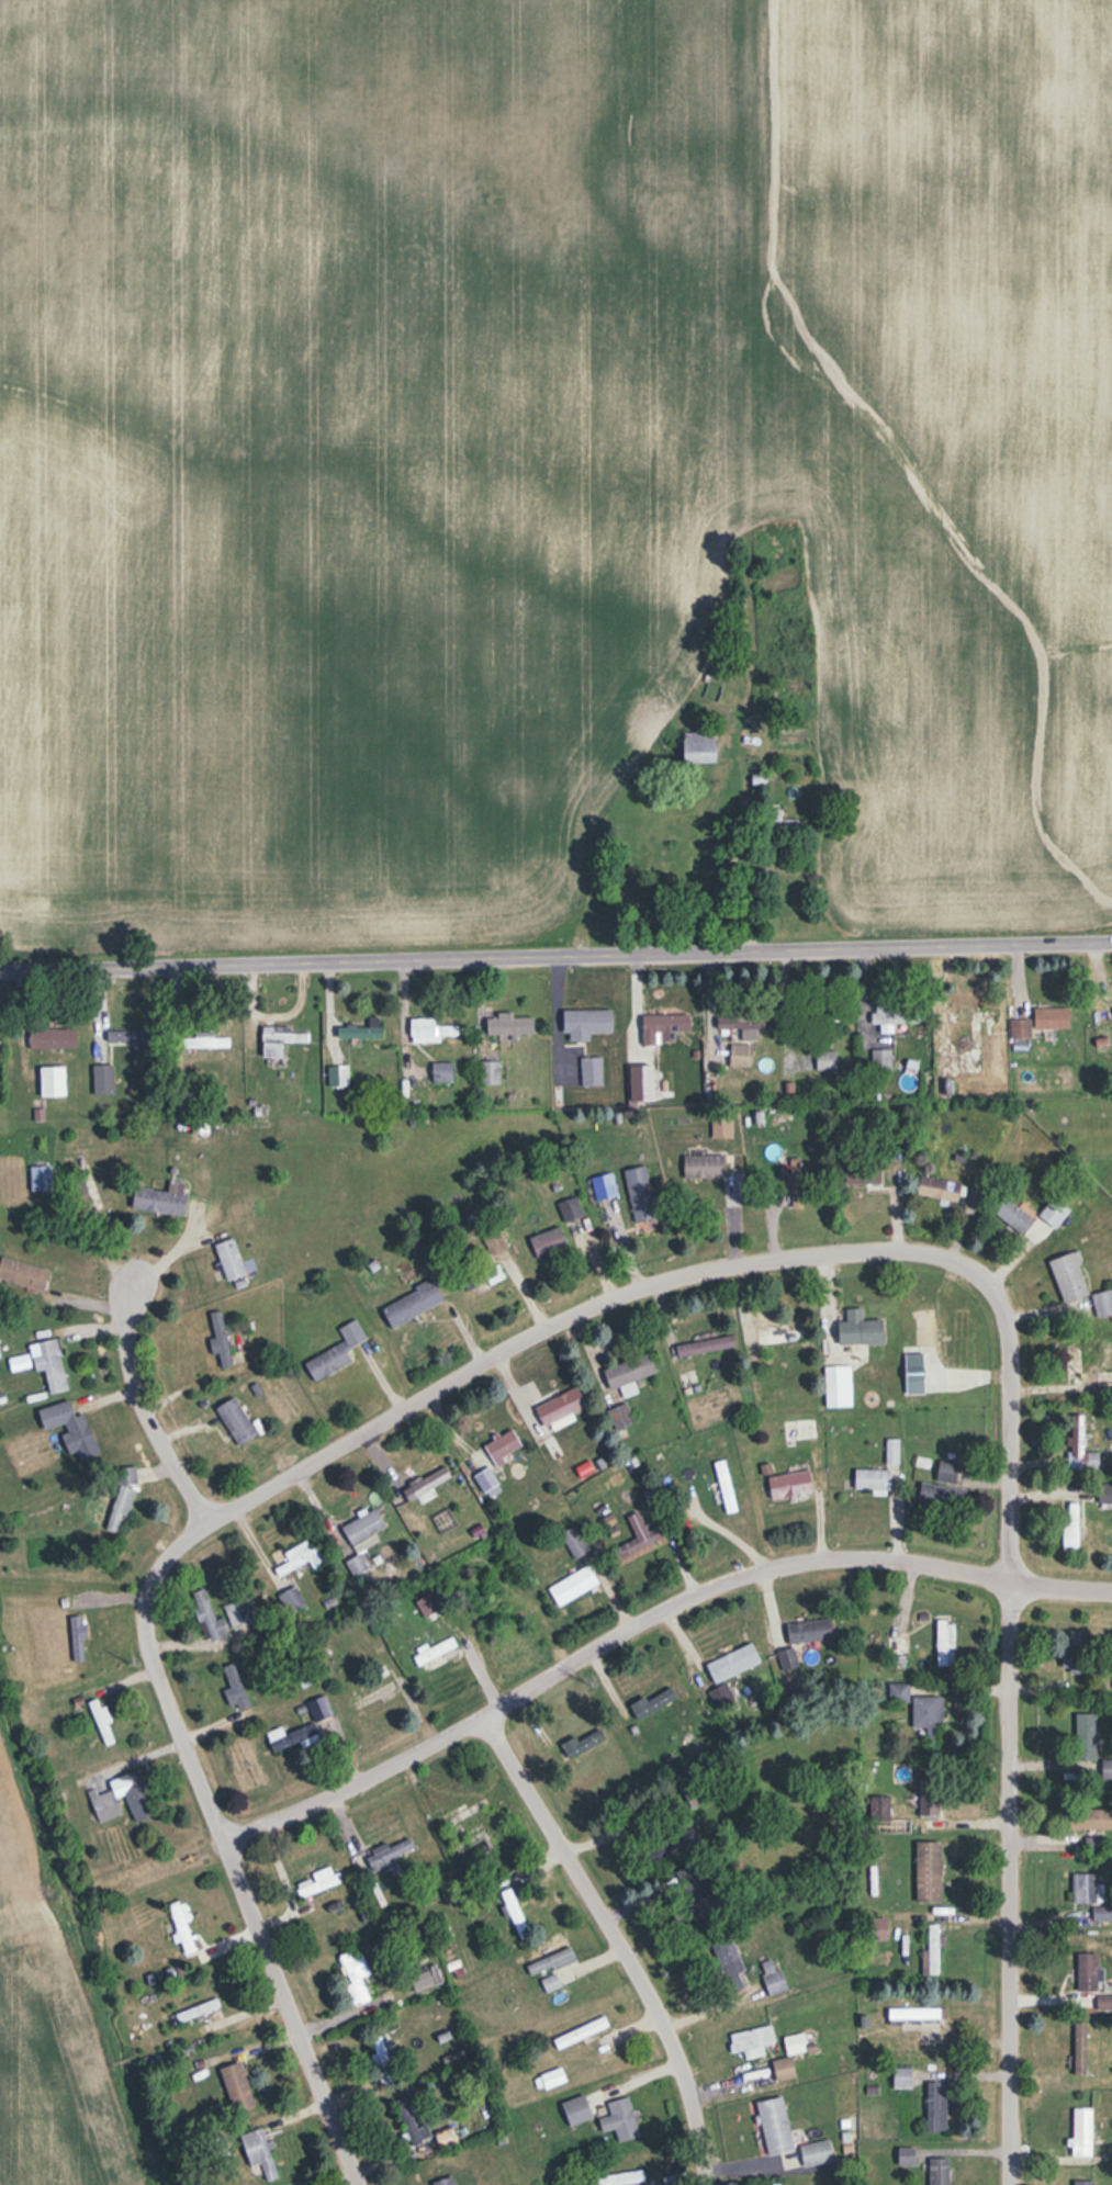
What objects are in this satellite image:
building: (700, 746)
road: (555, 955)
building: (896, 1014)
building: (971, 1014)
building: (1052, 1017)
building: (586, 1023)
building: (509, 1024)
building: (742, 1025)
building: (664, 1027)
building: (1020, 1028)
building: (430, 1030)
building: (360, 1032)
building: (53, 1037)
building: (133, 1037)
building: (280, 1039)
building: (207, 1043)
building: (741, 1055)
building: (825, 1059)
building: (880, 1059)
building: (969, 1059)
building: (441, 1071)
building: (592, 1071)
building: (488, 1072)
building: (338, 1077)
building: (103, 1079)
building: (53, 1081)
building: (642, 1082)
building: (721, 1125)
building: (704, 1165)
building: (863, 1172)
building: (41, 1178)
building: (794, 1183)
building: (604, 1185)
building: (939, 1187)
building: (640, 1193)
building: (161, 1198)
building: (570, 1208)
building: (1055, 1212)
building: (1013, 1215)
building: (549, 1241)
building: (229, 1259)
building: (485, 1277)
building: (1069, 1277)
building: (413, 1303)
building: (1103, 1303)
road: (572, 1315)
building: (861, 1328)
building: (928, 1328)
building: (775, 1332)
building: (220, 1340)
building: (706, 1345)
building: (336, 1352)
building: (1075, 1361)
building: (49, 1364)
building: (630, 1373)
building: (1103, 1382)
building: (838, 1386)
road: (139, 1404)
building: (561, 1406)
building: (621, 1416)
building: (236, 1421)
building: (69, 1426)
building: (800, 1430)
building: (1072, 1441)
building: (504, 1446)
building: (947, 1472)
building: (486, 1479)
building: (872, 1479)
building: (426, 1483)
building: (790, 1484)
building: (725, 1486)
building: (122, 1501)
building: (1070, 1527)
building: (639, 1535)
building: (362, 1539)
building: (574, 1542)
building: (299, 1557)
building: (574, 1585)
building: (238, 1612)
building: (209, 1617)
building: (810, 1630)
building: (78, 1637)
building: (945, 1642)
building: (897, 1648)
building: (1072, 1651)
building: (439, 1655)
building: (787, 1658)
road: (566, 1663)
building: (732, 1663)
building: (898, 1691)
building: (653, 1702)
building: (319, 1708)
building: (928, 1711)
road: (1006, 1728)
building: (1088, 1732)
building: (289, 1736)
building: (585, 1743)
building: (1100, 1769)
building: (104, 1795)
building: (929, 1797)
building: (1098, 1818)
building: (457, 1833)
road: (218, 1845)
building: (387, 1854)
building: (929, 1871)
building: (318, 1881)
building: (1083, 1888)
building: (698, 1890)
building: (515, 1913)
building: (182, 1927)
building: (876, 1928)
road: (616, 1939)
building: (933, 1948)
building: (728, 1961)
building: (551, 1967)
building: (1088, 1971)
building: (357, 1978)
building: (422, 1979)
building: (775, 1980)
building: (1104, 2002)
building: (913, 2015)
building: (581, 2031)
building: (751, 2040)
building: (795, 2043)
building: (1080, 2048)
building: (383, 2060)
building: (784, 2069)
building: (557, 2075)
building: (902, 2077)
building: (238, 2086)
building: (936, 2107)
building: (577, 2109)
building: (620, 2119)
building: (412, 2124)
building: (775, 2126)
building: (1082, 2131)
building: (446, 2137)
building: (259, 2152)
building: (816, 2152)
building: (939, 2171)
building: (617, 2178)
building: (445, 2182)
building: (1082, 2182)

